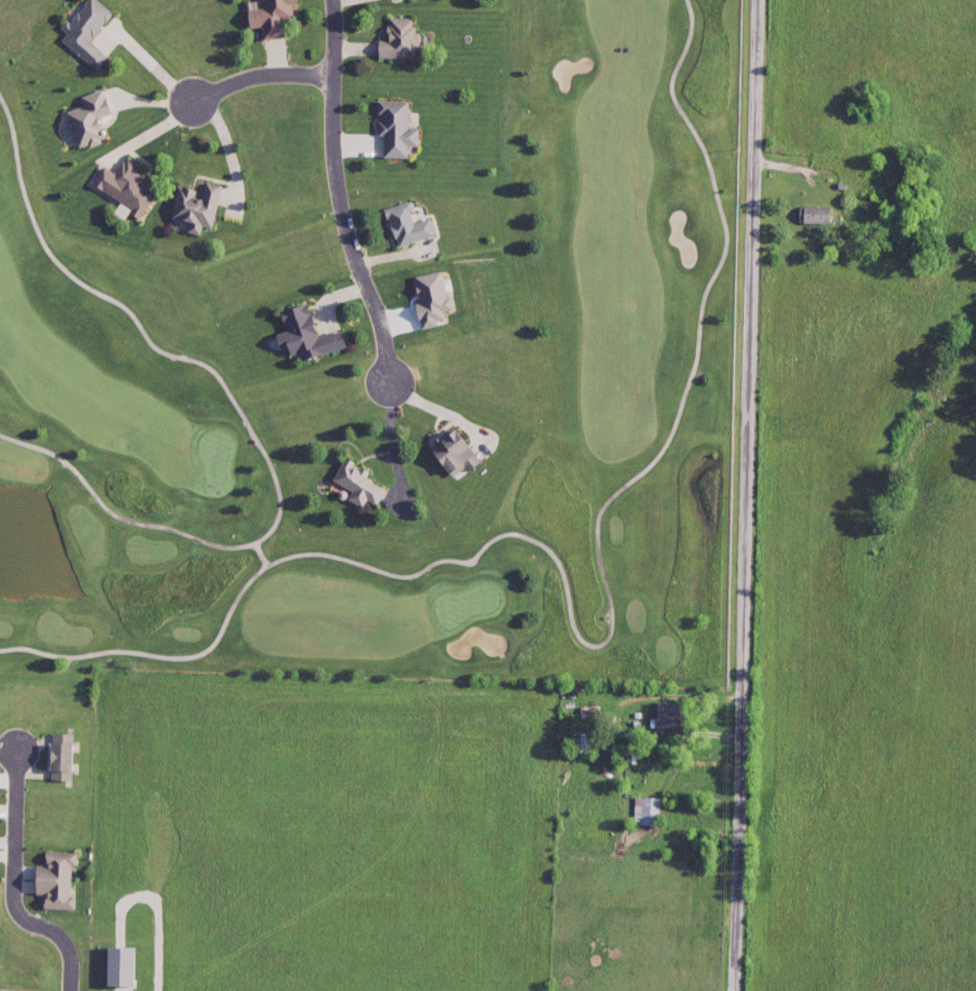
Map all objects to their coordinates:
building: (388, 1)
park: (12, 16)
building: (269, 19)
building: (88, 34)
building: (394, 37)
road: (260, 78)
building: (83, 119)
building: (392, 129)
road: (231, 155)
building: (122, 190)
road: (339, 196)
building: (189, 206)
building: (811, 215)
building: (408, 223)
building: (305, 325)
park: (369, 337)
park: (110, 343)
road: (154, 348)
building: (451, 454)
road: (396, 460)
building: (351, 484)
road: (748, 495)
road: (98, 501)
road: (600, 512)
road: (261, 554)
road: (154, 656)
road: (659, 701)
building: (661, 721)
building: (583, 740)
building: (56, 758)
building: (645, 812)
building: (57, 882)
road: (15, 886)

